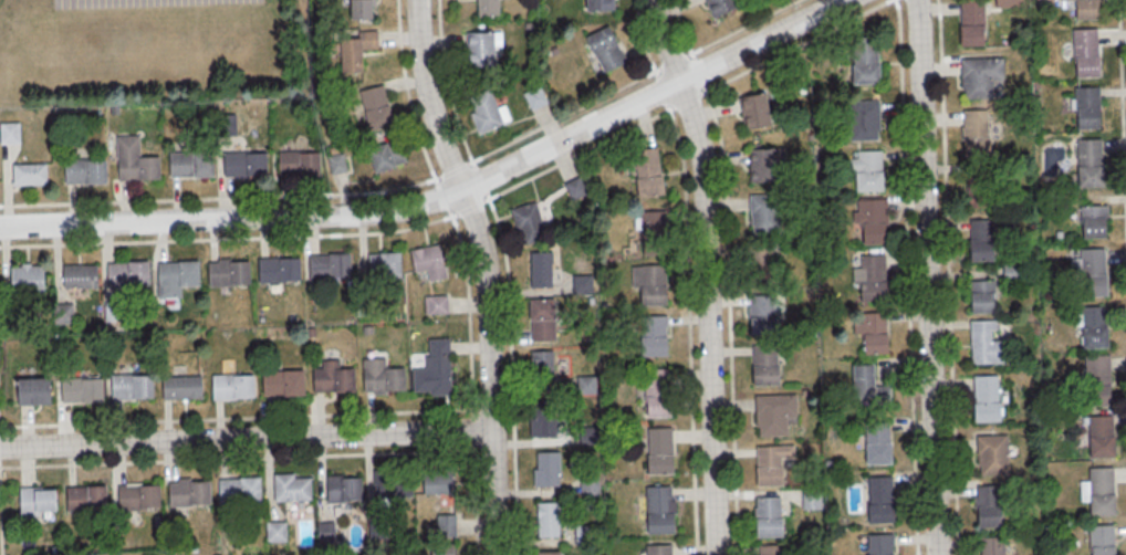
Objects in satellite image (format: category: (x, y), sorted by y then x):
building: (1009, 3)
building: (596, 4)
building: (717, 6)
building: (484, 7)
building: (362, 9)
building: (1087, 9)
building: (973, 22)
road: (638, 35)
road: (685, 45)
building: (603, 48)
building: (353, 49)
building: (478, 49)
building: (1086, 51)
building: (866, 61)
building: (978, 75)
road: (442, 82)
building: (532, 96)
building: (372, 106)
building: (1087, 107)
road: (408, 111)
building: (481, 111)
building: (751, 111)
building: (864, 118)
building: (9, 132)
building: (972, 133)
road: (1120, 148)
building: (386, 155)
building: (135, 160)
building: (337, 160)
building: (1089, 161)
building: (187, 163)
building: (241, 163)
building: (295, 164)
building: (759, 165)
building: (868, 170)
building: (85, 171)
building: (647, 171)
building: (30, 175)
building: (572, 187)
road: (503, 188)
building: (981, 188)
road: (441, 195)
road: (444, 205)
building: (762, 212)
building: (868, 219)
building: (1094, 221)
building: (528, 222)
building: (649, 231)
building: (979, 240)
building: (425, 260)
building: (757, 263)
building: (380, 264)
building: (329, 265)
building: (279, 269)
building: (538, 269)
building: (124, 272)
building: (228, 272)
road: (484, 272)
building: (1010, 272)
building: (1094, 272)
building: (175, 273)
road: (705, 273)
building: (77, 275)
building: (874, 276)
road: (905, 276)
road: (925, 276)
road: (945, 276)
building: (24, 280)
building: (580, 283)
building: (647, 283)
building: (980, 295)
building: (434, 304)
building: (361, 306)
road: (466, 311)
building: (762, 315)
building: (539, 318)
road: (727, 321)
building: (1092, 326)
road: (686, 331)
building: (868, 331)
building: (653, 334)
building: (982, 343)
building: (539, 365)
building: (767, 365)
building: (435, 367)
road: (508, 375)
building: (330, 376)
building: (378, 376)
building: (1094, 379)
building: (283, 381)
building: (583, 384)
building: (232, 385)
building: (865, 385)
building: (129, 386)
building: (181, 386)
building: (77, 389)
building: (30, 390)
building: (654, 392)
building: (986, 397)
building: (771, 412)
building: (540, 418)
road: (470, 430)
building: (585, 434)
building: (1101, 436)
road: (246, 437)
building: (877, 442)
building: (659, 450)
building: (991, 454)
building: (768, 463)
building: (543, 468)
building: (435, 480)
building: (388, 483)
building: (586, 485)
building: (288, 486)
building: (340, 488)
building: (236, 489)
building: (1101, 491)
building: (185, 493)
building: (135, 495)
building: (83, 496)
building: (807, 499)
building: (880, 499)
building: (32, 501)
road: (472, 502)
building: (989, 505)
building: (658, 509)
building: (768, 515)
building: (545, 519)
building: (442, 524)
building: (375, 527)
building: (273, 531)
building: (323, 531)
building: (582, 534)
building: (1102, 538)
building: (880, 544)
building: (992, 545)
building: (439, 548)
building: (659, 549)
building: (771, 549)
building: (546, 553)

